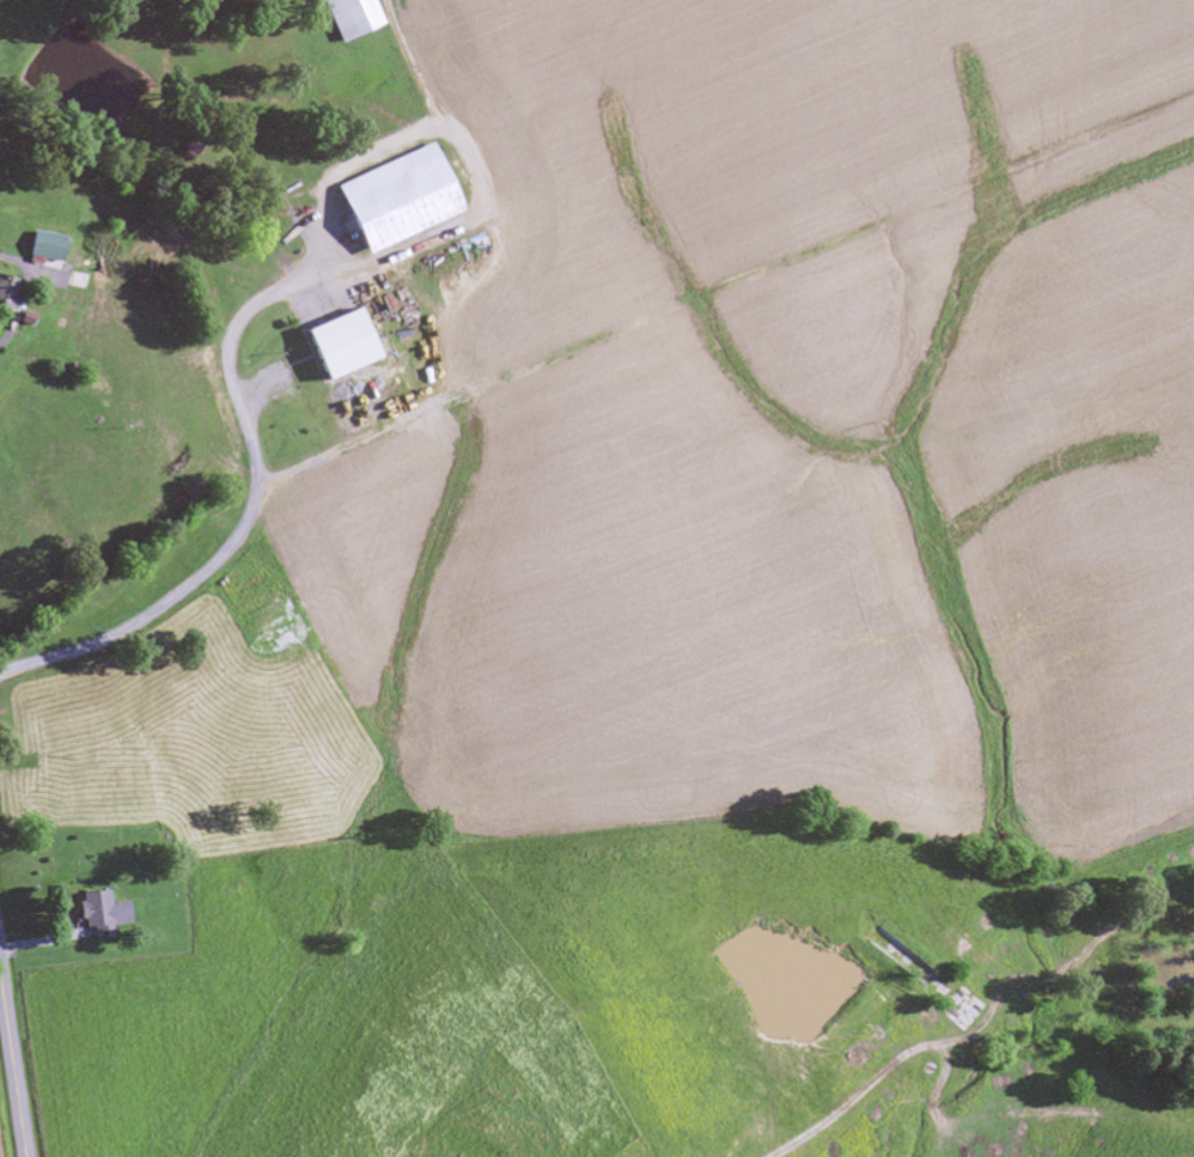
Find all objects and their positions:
building: (347, 18)
building: (400, 193)
building: (42, 249)
building: (6, 296)
building: (343, 342)
road: (246, 517)
building: (97, 914)
road: (12, 1064)

